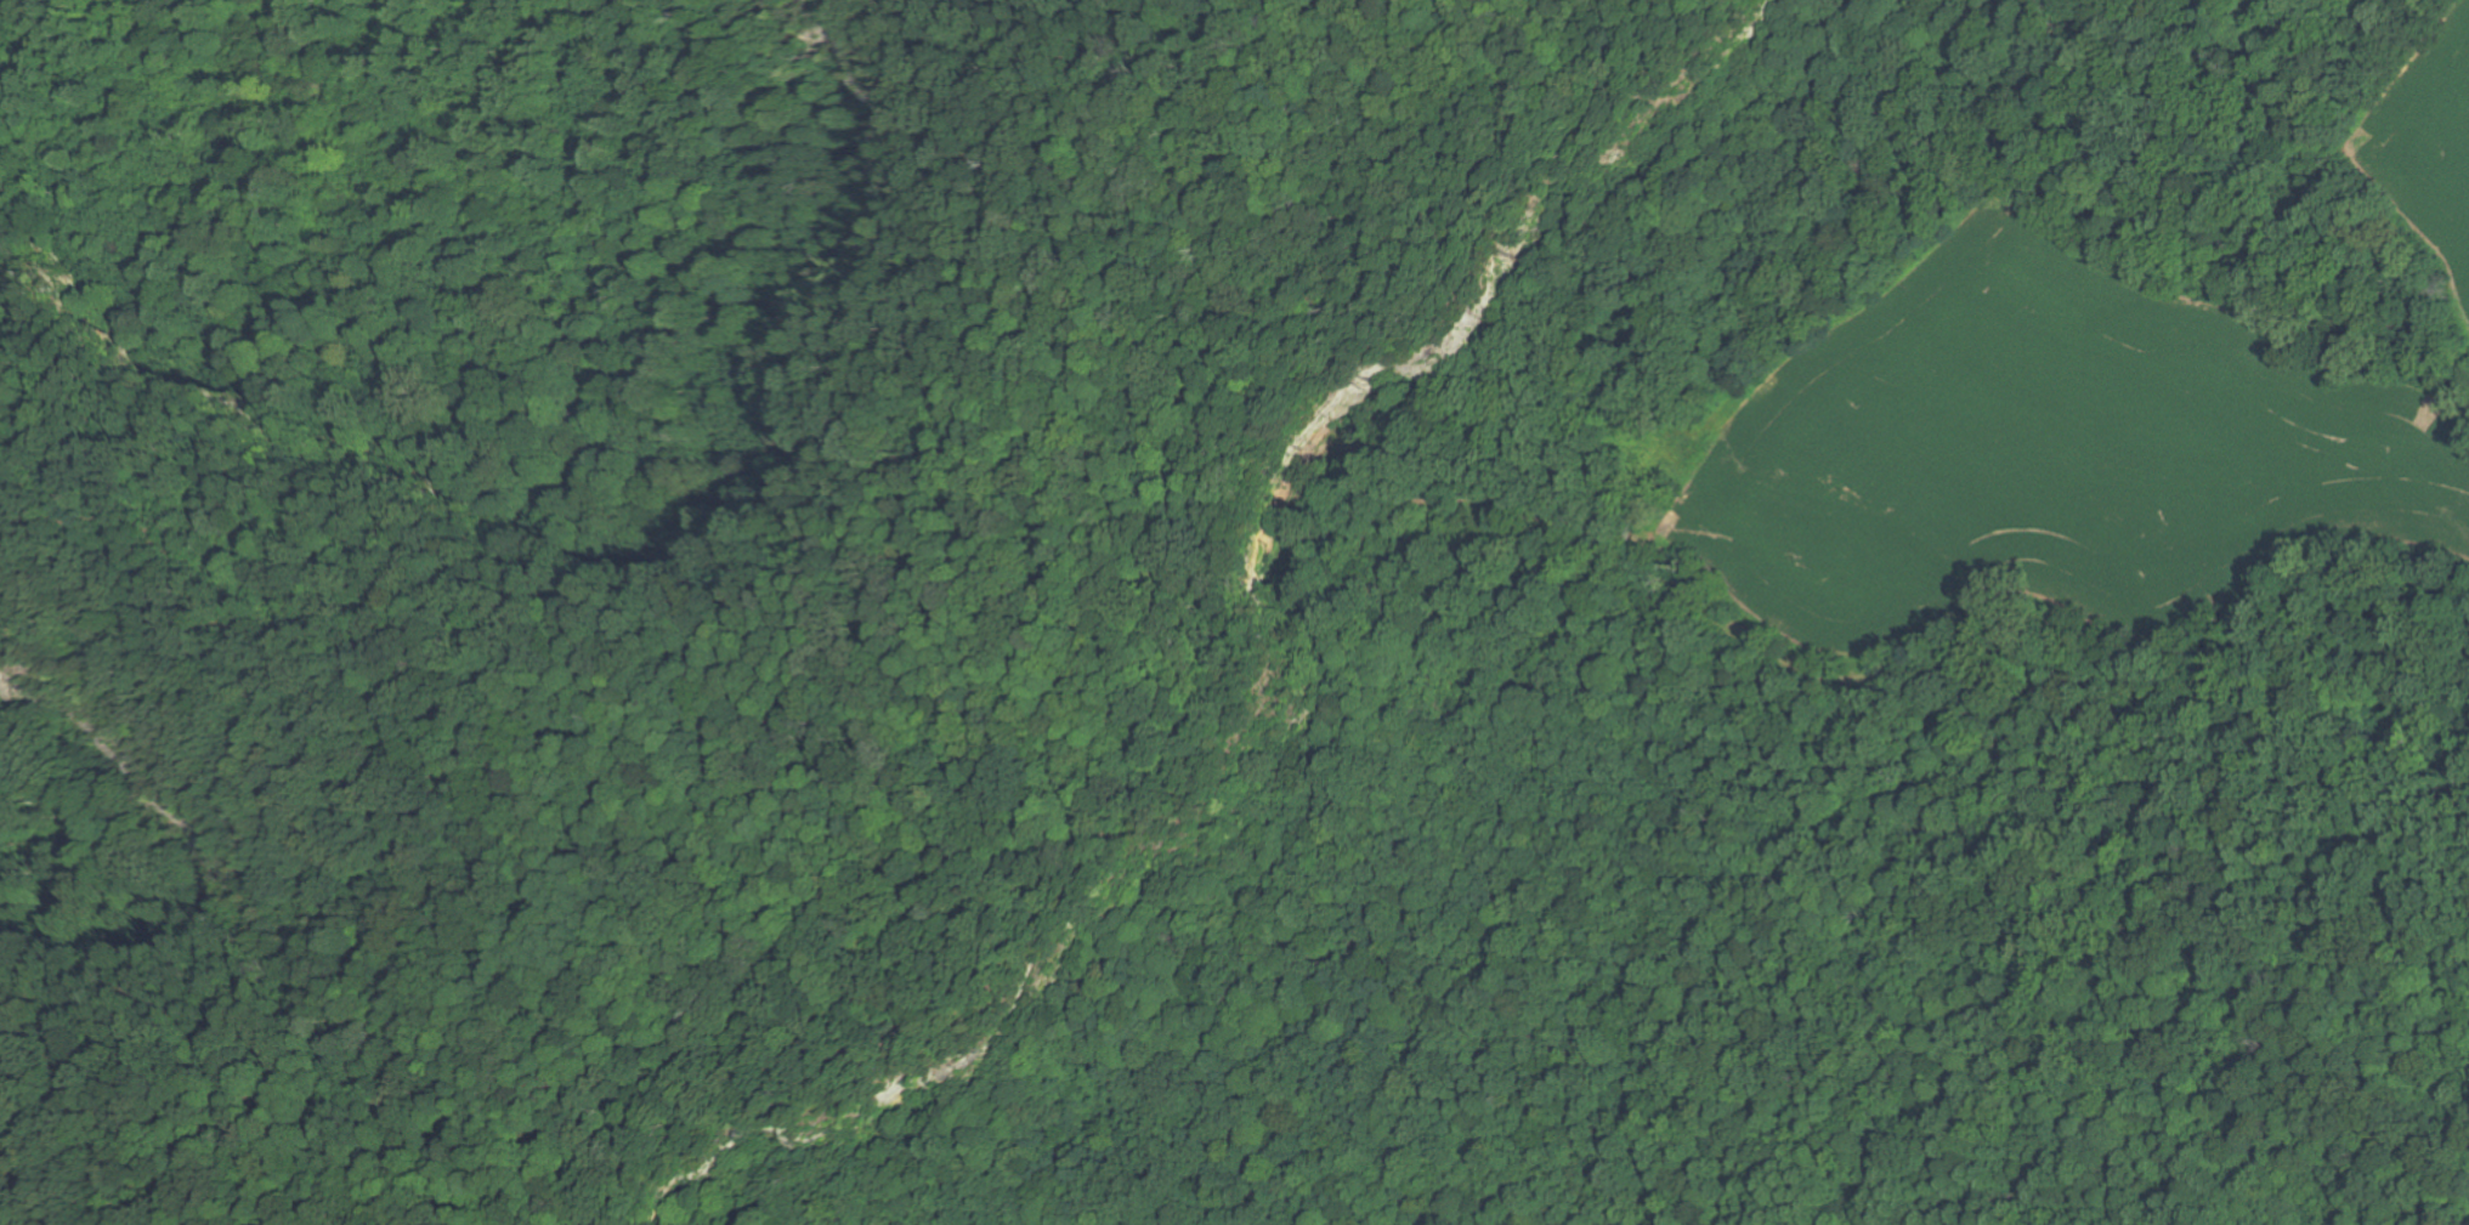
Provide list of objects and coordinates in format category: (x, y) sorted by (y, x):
road: (1235, 124)
road: (407, 659)
road: (970, 744)
road: (164, 841)
road: (159, 1113)

